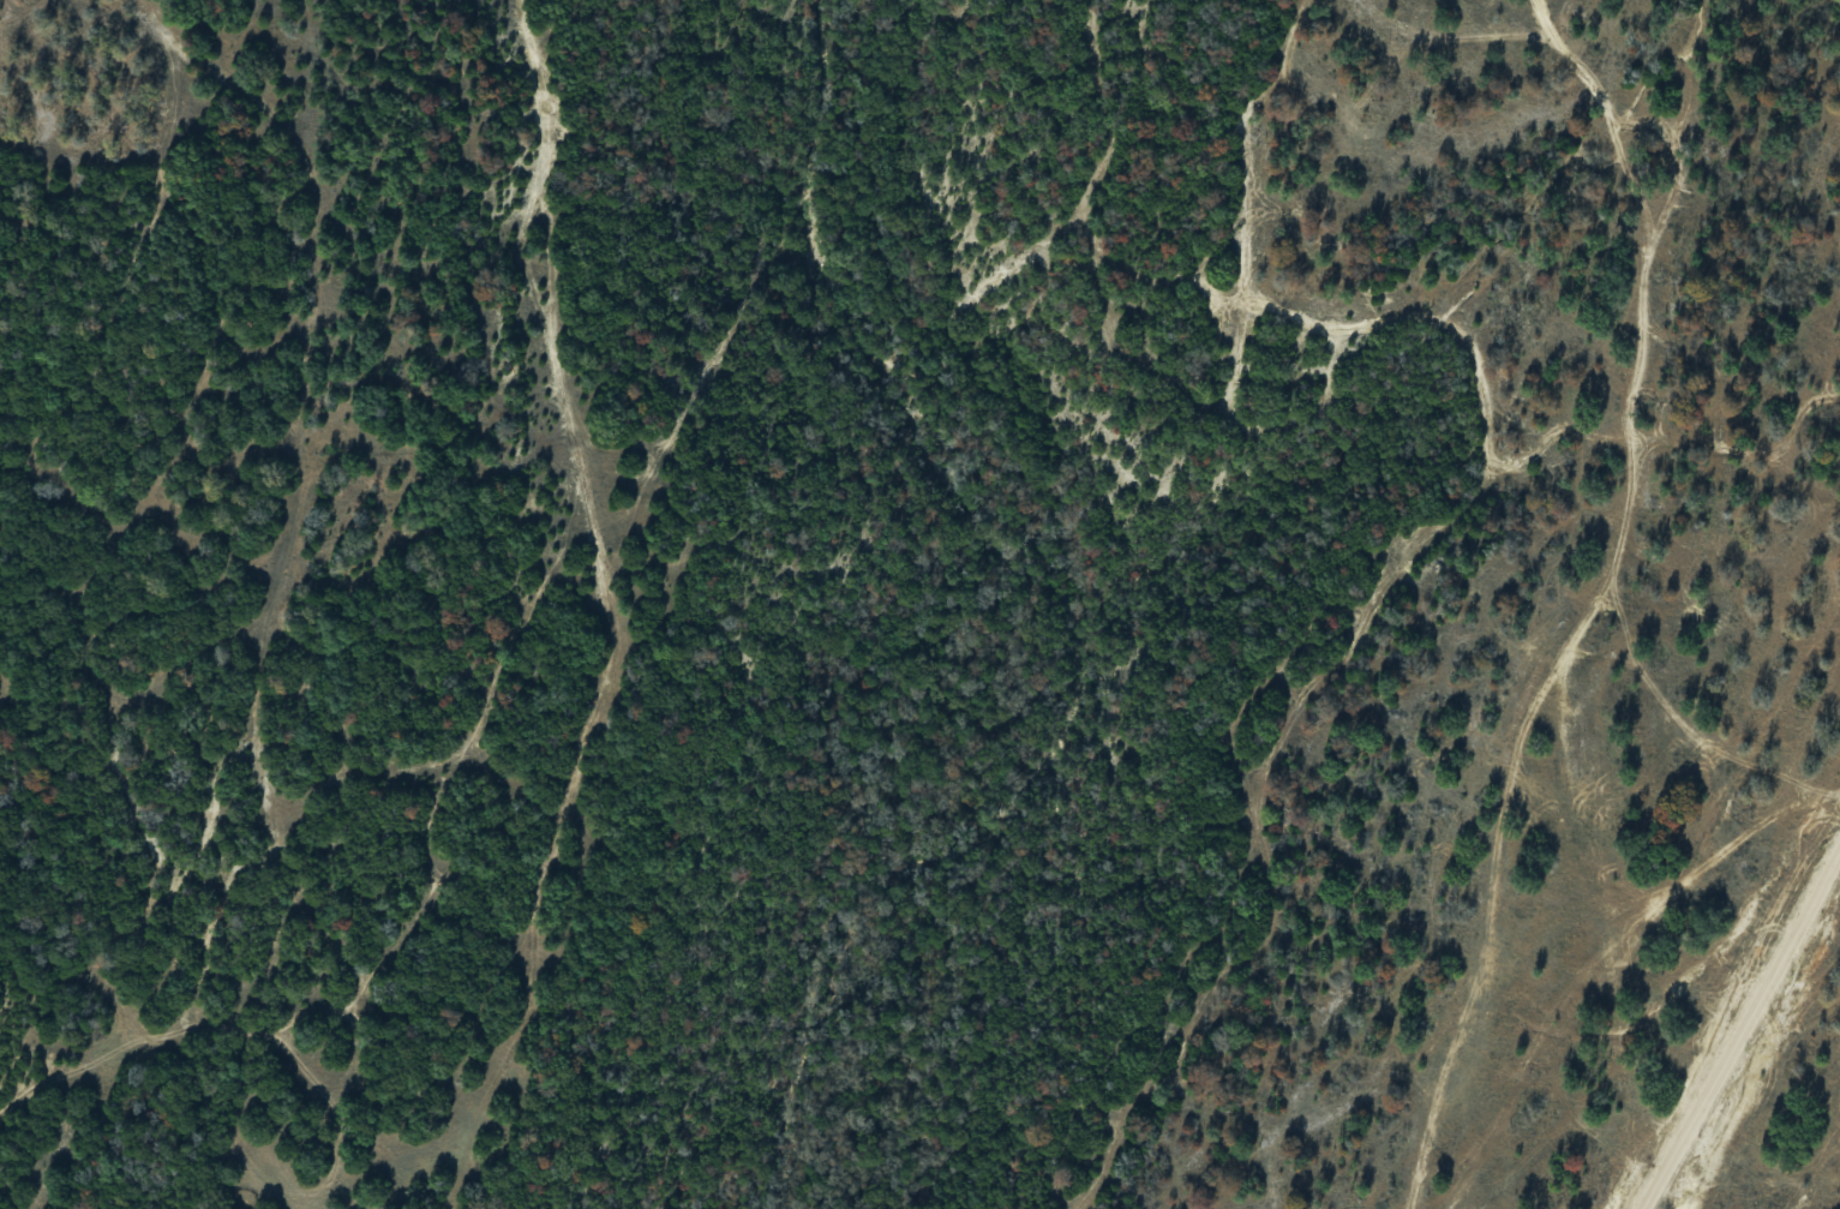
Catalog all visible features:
road: (1740, 1033)

